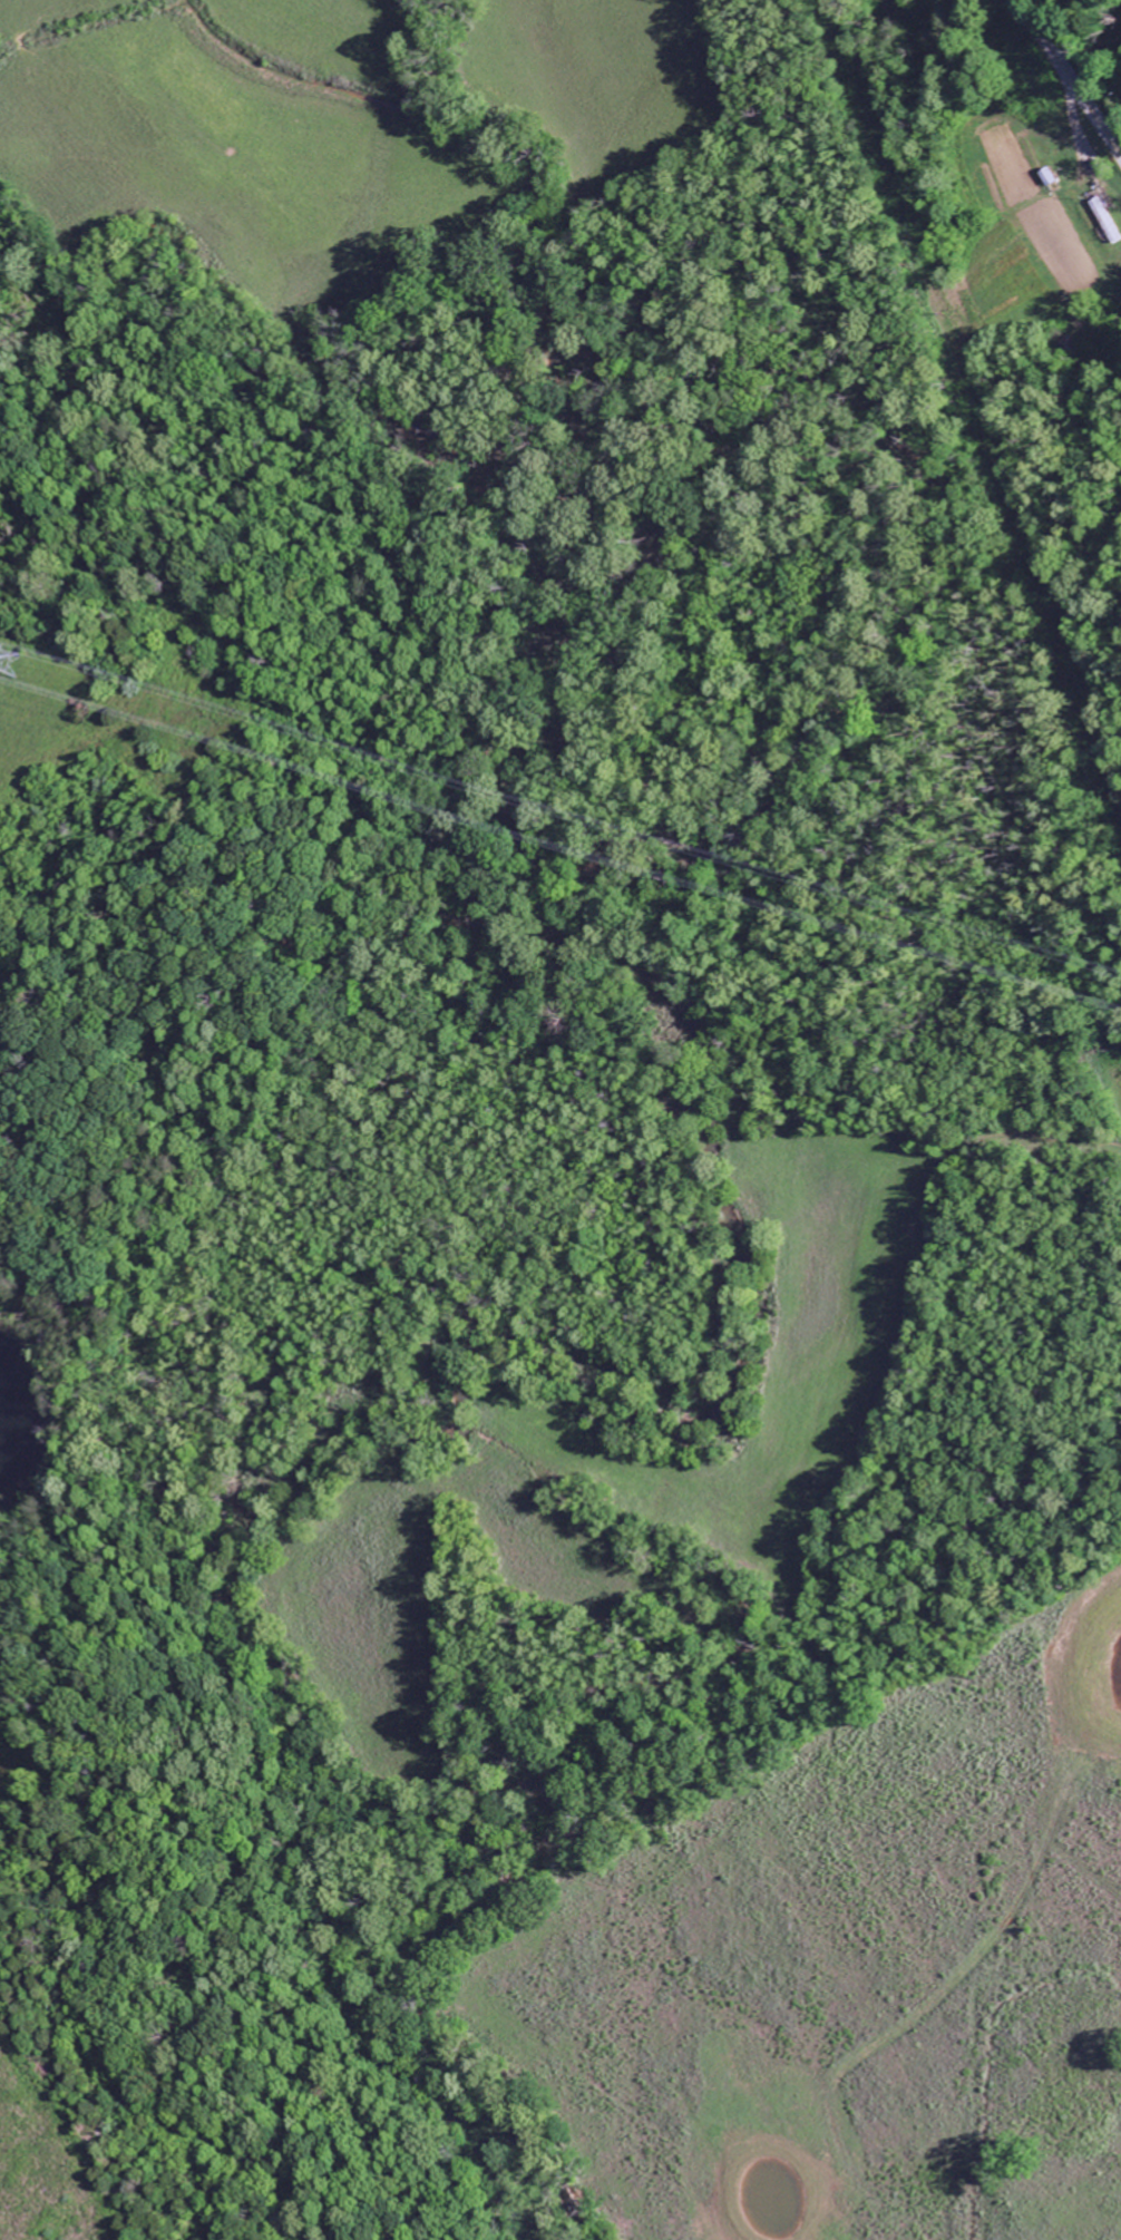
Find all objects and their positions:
road: (1066, 78)

